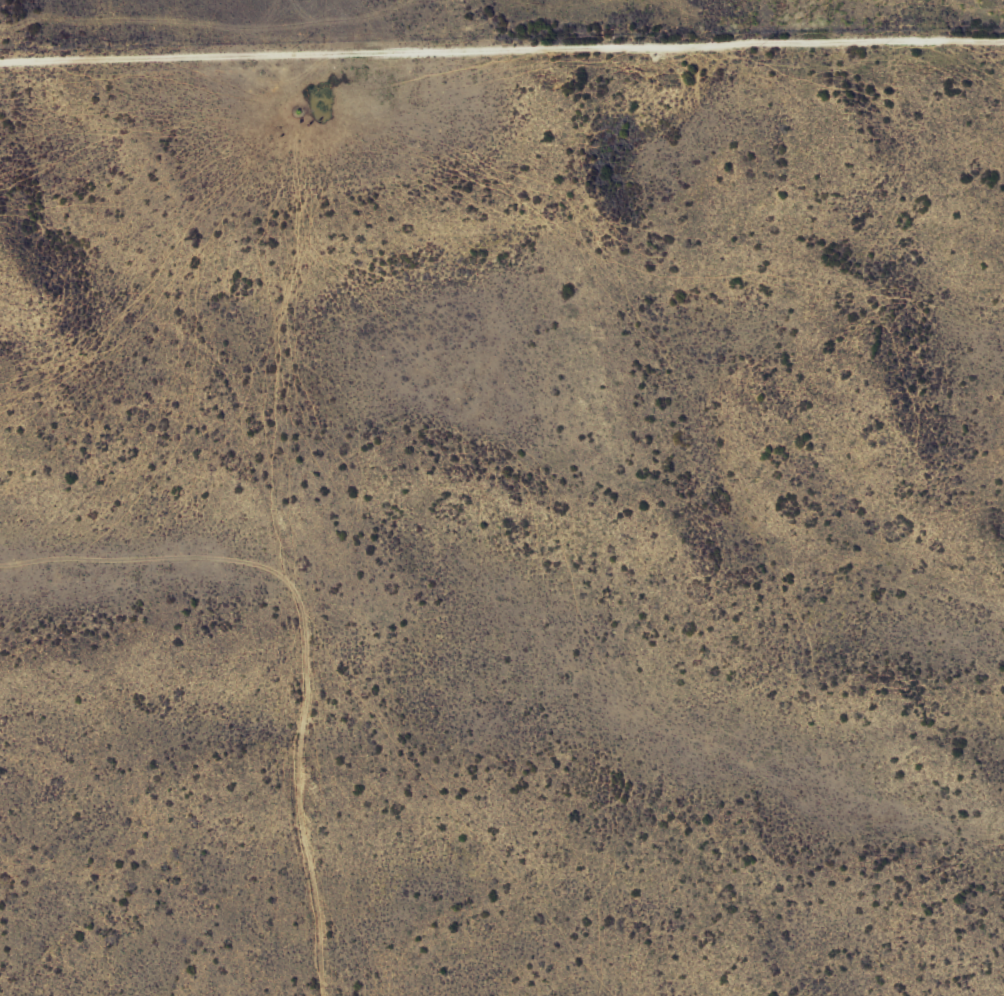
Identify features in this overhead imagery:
road: (502, 52)

